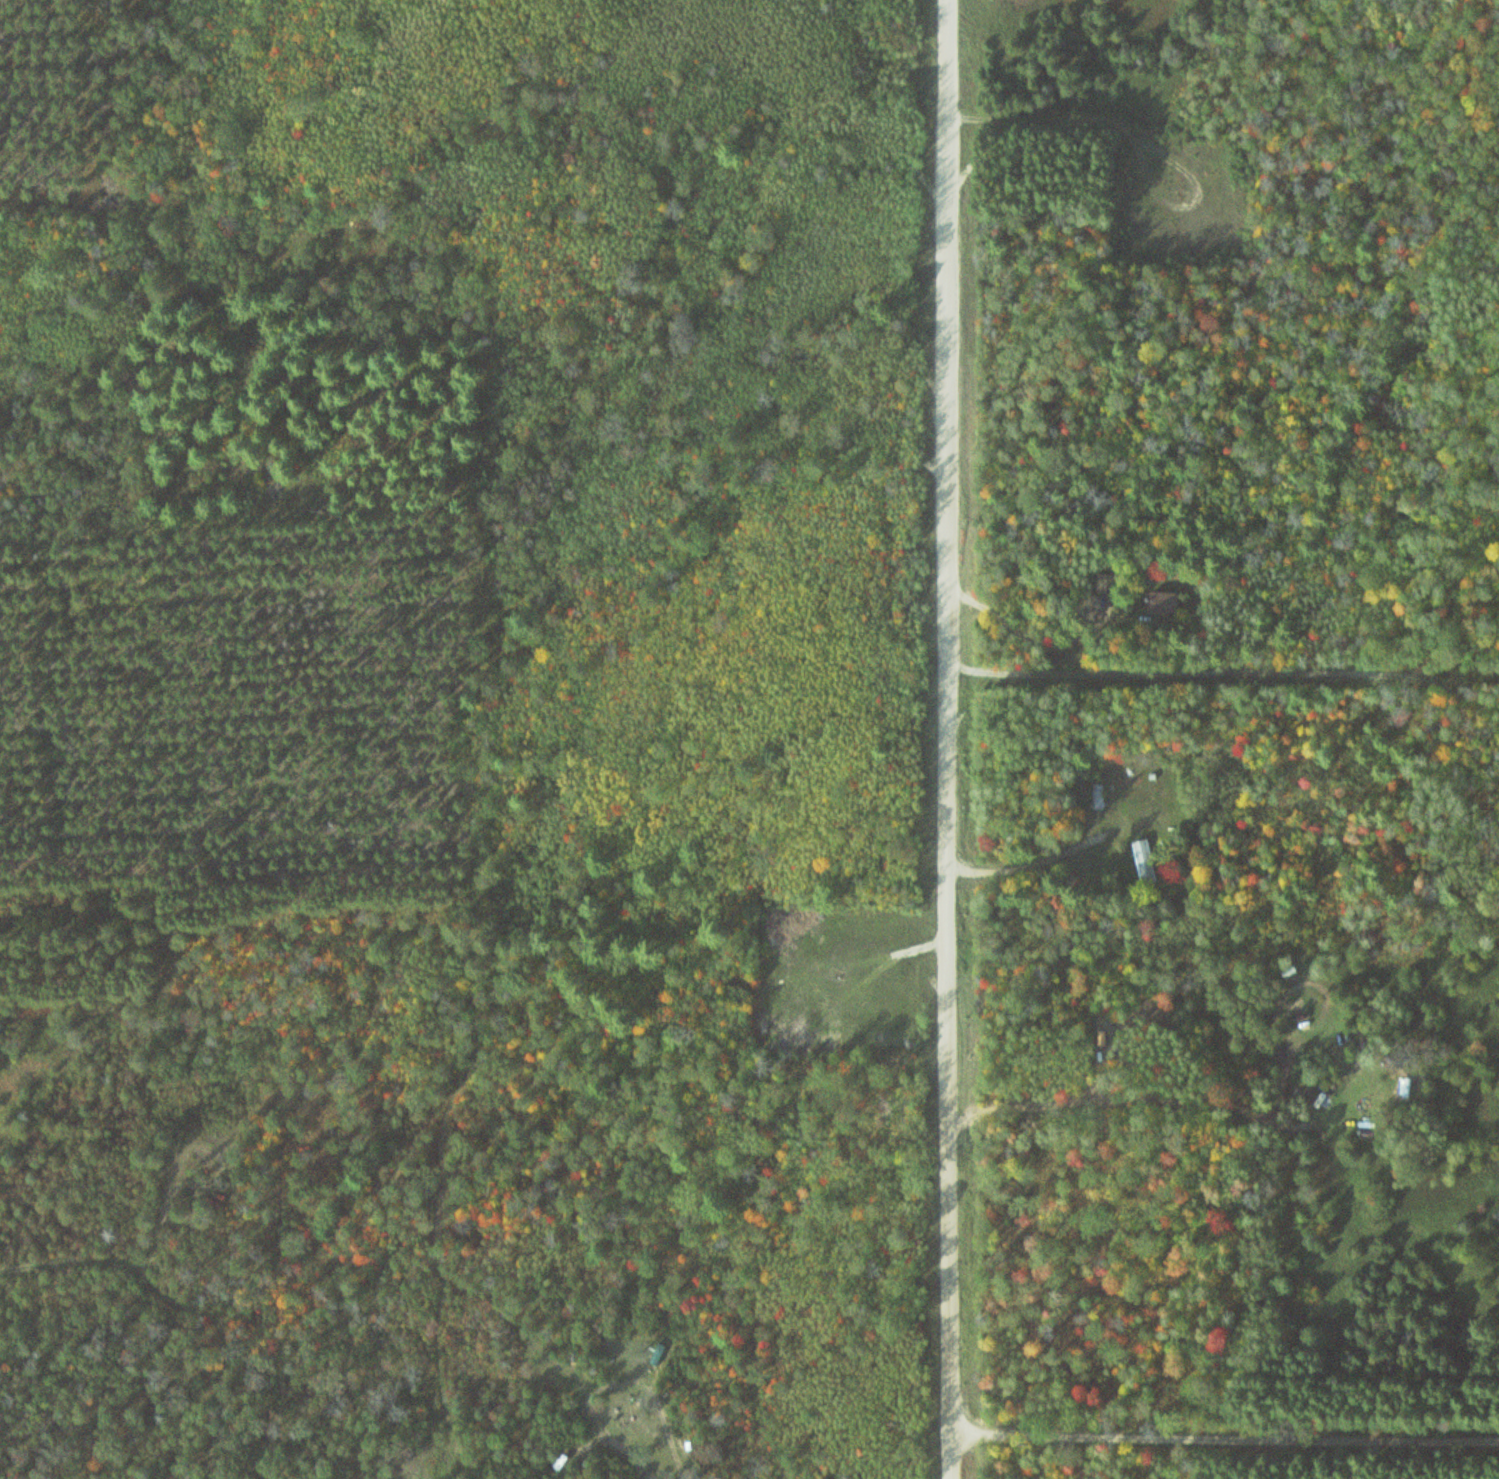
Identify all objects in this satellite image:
road: (1087, 114)
building: (1171, 602)
road: (1230, 689)
road: (954, 739)
building: (1096, 797)
building: (1145, 862)
road: (1226, 1436)

